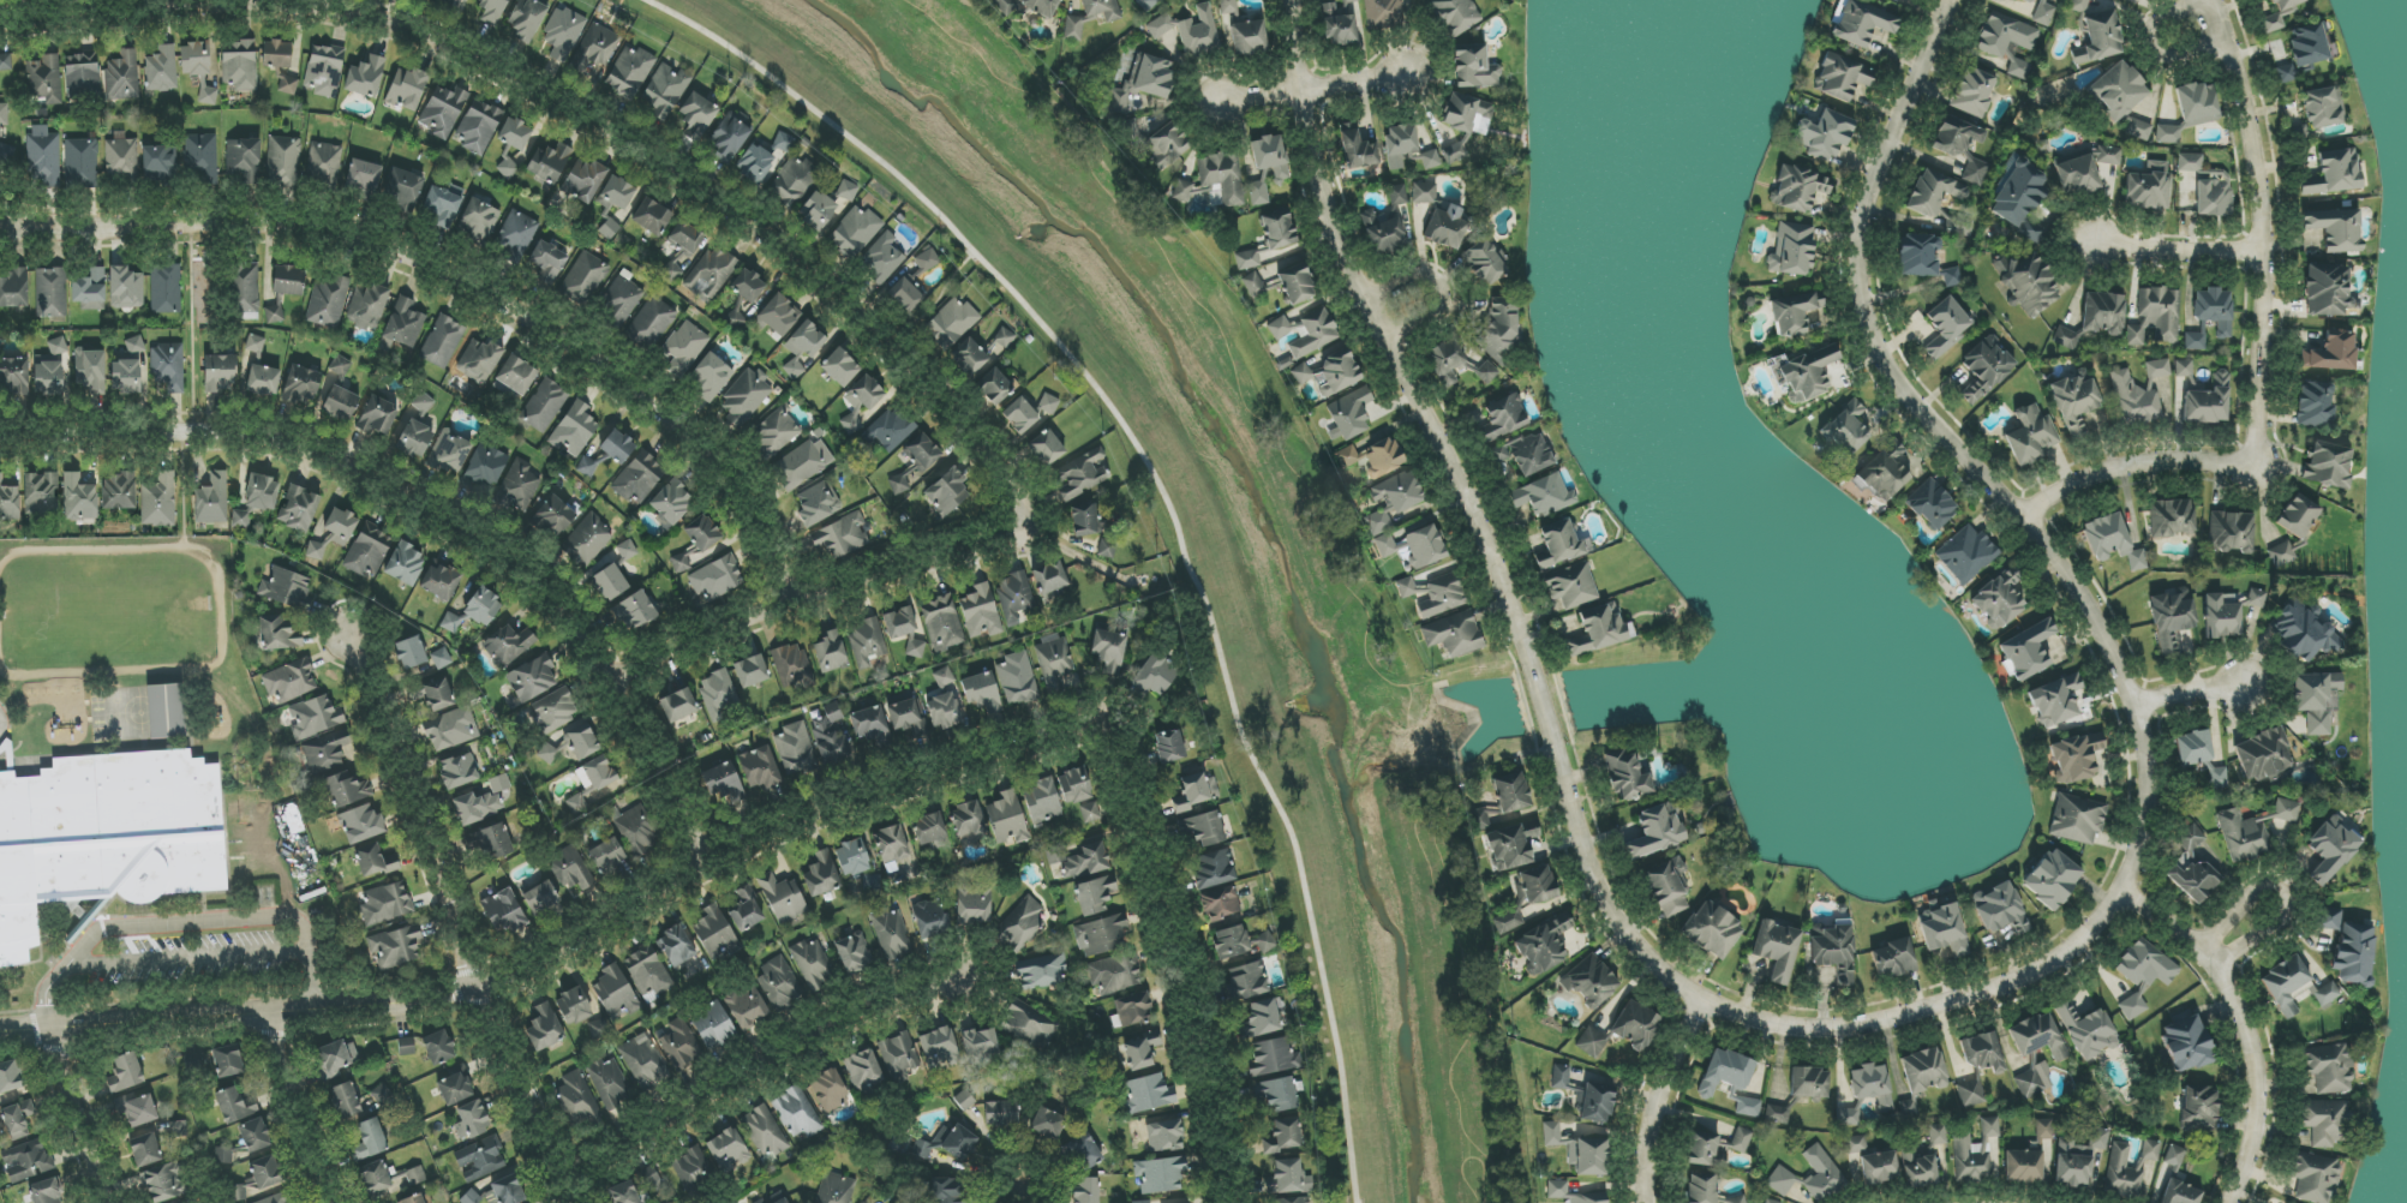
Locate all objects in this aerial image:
building: (2028, 1)
road: (273, 2)
building: (453, 2)
building: (1146, 4)
building: (2078, 5)
building: (1004, 6)
building: (1042, 6)
building: (491, 10)
building: (1383, 13)
building: (1455, 14)
building: (2043, 14)
building: (2279, 14)
building: (1090, 17)
building: (527, 19)
building: (1343, 23)
building: (1860, 23)
building: (1190, 30)
building: (1244, 31)
building: (563, 32)
building: (2005, 35)
building: (2098, 38)
building: (2307, 44)
road: (2154, 47)
building: (595, 48)
building: (277, 54)
building: (194, 59)
building: (5, 62)
building: (239, 65)
building: (1473, 67)
building: (2018, 68)
building: (161, 70)
building: (324, 71)
building: (630, 72)
building: (82, 74)
building: (121, 76)
building: (365, 77)
building: (1840, 77)
building: (2285, 78)
building: (44, 79)
building: (1143, 82)
building: (288, 85)
building: (407, 89)
road: (1312, 89)
building: (665, 90)
building: (2116, 91)
building: (1972, 92)
building: (2323, 107)
building: (443, 110)
building: (1465, 112)
road: (576, 115)
building: (4, 116)
building: (697, 116)
road: (2247, 125)
building: (478, 126)
building: (2138, 128)
building: (1131, 131)
building: (515, 133)
building: (2167, 133)
building: (1825, 136)
building: (1956, 137)
building: (728, 139)
building: (783, 142)
building: (1167, 145)
building: (1407, 148)
building: (1358, 150)
building: (1457, 150)
building: (2106, 154)
building: (6, 155)
building: (43, 156)
building: (200, 156)
building: (1270, 156)
building: (120, 157)
building: (243, 160)
building: (158, 161)
building: (282, 161)
building: (2190, 162)
building: (80, 163)
building: (549, 164)
building: (755, 164)
building: (323, 166)
building: (507, 168)
building: (1975, 172)
building: (2334, 173)
building: (1222, 176)
building: (2077, 176)
building: (363, 180)
building: (585, 180)
building: (794, 182)
building: (403, 187)
building: (2149, 187)
building: (1798, 188)
building: (618, 192)
building: (1258, 193)
building: (1424, 193)
building: (1934, 193)
building: (2018, 196)
building: (2213, 197)
building: (826, 204)
building: (443, 205)
building: (652, 216)
building: (479, 219)
building: (1388, 223)
building: (1447, 227)
building: (1279, 229)
building: (2335, 229)
building: (855, 232)
building: (515, 237)
building: (687, 237)
building: (1792, 249)
road: (2174, 255)
building: (1918, 256)
building: (881, 259)
building: (1246, 259)
building: (1486, 261)
building: (546, 263)
building: (712, 273)
building: (909, 277)
building: (1952, 277)
building: (585, 279)
building: (288, 280)
building: (2028, 283)
building: (1297, 285)
building: (748, 286)
building: (245, 287)
road: (457, 287)
building: (14, 288)
building: (126, 288)
building: (166, 288)
building: (2327, 289)
building: (89, 291)
building: (50, 292)
building: (621, 300)
road: (938, 301)
building: (328, 303)
building: (367, 306)
road: (1419, 307)
building: (2214, 310)
building: (1794, 313)
building: (274, 315)
building: (778, 316)
building: (2156, 316)
building: (2095, 318)
building: (951, 322)
building: (403, 323)
building: (649, 324)
building: (1946, 325)
building: (1279, 328)
building: (1497, 331)
building: (1315, 333)
road: (1395, 336)
building: (1005, 337)
building: (2195, 341)
building: (442, 342)
building: (255, 343)
building: (134, 345)
building: (58, 346)
building: (802, 347)
building: (684, 348)
building: (2331, 352)
building: (479, 360)
building: (1445, 361)
building: (168, 366)
building: (340, 366)
building: (840, 367)
building: (1986, 367)
building: (2184, 367)
building: (2157, 369)
building: (91, 371)
building: (1486, 372)
building: (218, 373)
building: (1329, 373)
building: (1808, 373)
building: (14, 375)
building: (48, 375)
building: (126, 376)
building: (517, 376)
building: (711, 377)
building: (263, 381)
building: (301, 385)
building: (994, 388)
building: (746, 396)
building: (861, 401)
building: (2074, 401)
building: (2133, 401)
building: (2208, 402)
building: (341, 403)
building: (423, 403)
building: (1049, 403)
building: (2315, 405)
building: (544, 406)
building: (1349, 414)
building: (378, 417)
building: (1019, 417)
building: (1504, 418)
building: (890, 429)
building: (574, 430)
building: (1845, 430)
building: (774, 432)
building: (2030, 436)
building: (414, 438)
building: (617, 447)
building: (1047, 448)
building: (923, 451)
building: (449, 453)
building: (1529, 454)
building: (1372, 457)
building: (802, 463)
building: (589, 465)
building: (2328, 465)
road: (2240, 467)
building: (484, 468)
building: (1882, 473)
building: (1080, 475)
building: (639, 478)
building: (899, 484)
building: (517, 487)
building: (119, 491)
building: (947, 492)
building: (41, 493)
building: (1543, 496)
building: (210, 497)
building: (79, 498)
building: (158, 501)
road: (1169, 501)
building: (1393, 501)
building: (8, 502)
building: (816, 503)
building: (671, 504)
building: (1932, 504)
building: (298, 508)
road: (427, 510)
building: (552, 516)
building: (2298, 516)
building: (2172, 517)
building: (1084, 521)
building: (2231, 532)
building: (333, 533)
building: (702, 533)
building: (842, 535)
building: (586, 541)
building: (2112, 541)
building: (1385, 544)
building: (1558, 545)
building: (1424, 546)
building: (1107, 549)
building: (367, 550)
building: (627, 550)
building: (2283, 552)
building: (1966, 553)
building: (683, 561)
building: (405, 564)
building: (441, 580)
building: (714, 580)
building: (1049, 580)
building: (610, 582)
building: (1573, 585)
building: (283, 586)
road: (818, 591)
building: (1435, 594)
building: (1014, 597)
building: (1999, 599)
building: (474, 611)
building: (634, 611)
building: (981, 612)
building: (2228, 612)
building: (2171, 620)
building: (942, 623)
building: (905, 629)
building: (1598, 630)
road: (2100, 632)
building: (277, 634)
building: (1454, 634)
building: (866, 641)
building: (508, 645)
building: (2026, 651)
building: (1109, 652)
building: (411, 653)
building: (830, 653)
building: (442, 659)
building: (1054, 662)
building: (792, 666)
building: (750, 671)
building: (1155, 676)
building: (945, 677)
building: (532, 678)
building: (1018, 680)
building: (291, 681)
building: (982, 692)
building: (718, 694)
building: (438, 695)
road: (2190, 695)
building: (2055, 700)
building: (2316, 700)
building: (678, 705)
road: (1544, 706)
building: (167, 711)
building: (555, 711)
building: (946, 711)
building: (908, 714)
building: (316, 717)
building: (869, 724)
building: (450, 729)
building: (581, 742)
building: (1169, 746)
building: (2193, 748)
building: (796, 749)
building: (327, 752)
building: (546, 753)
building: (2263, 755)
building: (2076, 756)
building: (760, 768)
building: (459, 771)
building: (1628, 777)
building: (2217, 777)
building: (498, 783)
building: (723, 783)
building: (1074, 786)
building: (346, 789)
building: (1191, 792)
building: (1511, 792)
building: (1042, 801)
building: (477, 807)
building: (2286, 810)
building: (1090, 813)
building: (1007, 818)
building: (2077, 819)
building: (968, 820)
building: (361, 824)
building: (930, 827)
building: (1203, 828)
building: (636, 830)
building: (1655, 831)
building: (107, 834)
building: (2243, 836)
building: (892, 844)
building: (486, 845)
building: (1511, 845)
building: (2330, 849)
building: (606, 857)
building: (852, 857)
building: (375, 861)
building: (1082, 861)
building: (2192, 868)
building: (571, 869)
building: (1213, 870)
building: (821, 874)
building: (2052, 879)
building: (1534, 887)
building: (1666, 890)
road: (1607, 891)
building: (1094, 896)
road: (2281, 896)
building: (540, 897)
building: (783, 898)
building: (974, 903)
building: (1222, 903)
building: (385, 904)
building: (747, 909)
building: (2000, 909)
building: (503, 911)
building: (2328, 918)
building: (930, 920)
road: (457, 922)
building: (1508, 922)
road: (188, 923)
building: (1023, 923)
building: (1712, 930)
building: (1944, 930)
building: (714, 933)
building: (891, 933)
building: (1102, 935)
road: (1150, 935)
building: (1231, 941)
building: (1265, 942)
building: (1544, 945)
building: (677, 946)
building: (395, 947)
building: (1777, 950)
building: (854, 952)
building: (1834, 952)
road: (544, 953)
building: (2354, 953)
road: (194, 957)
building: (1893, 959)
building: (813, 964)
building: (1041, 971)
building: (648, 972)
building: (1113, 974)
building: (2143, 974)
building: (1246, 981)
building: (1589, 981)
building: (779, 982)
building: (2285, 984)
building: (615, 990)
building: (2327, 994)
building: (748, 1005)
building: (574, 1006)
building: (1134, 1010)
building: (1261, 1019)
road: (2243, 1024)
building: (713, 1025)
building: (1029, 1025)
building: (1635, 1025)
building: (545, 1027)
building: (2088, 1031)
building: (2037, 1036)
building: (1592, 1042)
building: (978, 1043)
building: (2186, 1045)
building: (679, 1046)
building: (406, 1047)
building: (438, 1047)
building: (939, 1047)
road: (754, 1049)
building: (1140, 1051)
building: (1982, 1052)
building: (900, 1054)
building: (1273, 1058)
building: (331, 1059)
building: (193, 1061)
building: (227, 1061)
building: (643, 1063)
building: (2329, 1067)
building: (863, 1069)
building: (1923, 1071)
building: (1725, 1072)
building: (125, 1073)
building: (10, 1077)
building: (1559, 1077)
building: (1809, 1082)
building: (610, 1083)
building: (1872, 1085)
building: (455, 1089)
building: (830, 1089)
building: (1148, 1094)
building: (1277, 1094)
building: (1970, 1094)
building: (577, 1097)
building: (345, 1100)
building: (964, 1100)
road: (1663, 1100)
building: (1595, 1103)
building: (235, 1105)
road: (277, 1106)
building: (1748, 1107)
building: (1908, 1107)
building: (2199, 1107)
building: (137, 1109)
road: (74, 1113)
building: (797, 1113)
building: (1001, 1113)
building: (1777, 1114)
building: (18, 1119)
building: (472, 1120)
building: (2325, 1121)
building: (1047, 1124)
building: (178, 1129)
building: (765, 1132)
building: (255, 1135)
building: (1164, 1136)
building: (1282, 1136)
building: (369, 1141)
building: (1741, 1141)
building: (956, 1142)
building: (1856, 1144)
building: (922, 1149)
building: (145, 1150)
building: (729, 1150)
building: (1579, 1150)
building: (1706, 1150)
building: (1080, 1151)
building: (1977, 1154)
building: (2173, 1156)
building: (480, 1159)
building: (2078, 1159)
building: (26, 1160)
building: (1924, 1160)
building: (1879, 1167)
building: (2128, 1168)
building: (693, 1171)
building: (265, 1172)
building: (1160, 1174)
building: (1821, 1174)
building: (415, 1175)
building: (375, 1177)
building: (1288, 1178)
building: (2315, 1178)
building: (1780, 1180)
building: (164, 1183)
road: (998, 1183)
building: (1557, 1186)
building: (639, 1189)
building: (836, 1189)
building: (1702, 1189)
building: (508, 1190)
building: (1085, 1190)
building: (947, 1191)
building: (46, 1192)
building: (2180, 1192)
building: (472, 1197)
building: (277, 1198)
building: (774, 1198)
building: (413, 1199)
building: (1294, 1199)
building: (1736, 1199)
building: (198, 1201)
building: (1771, 1201)

